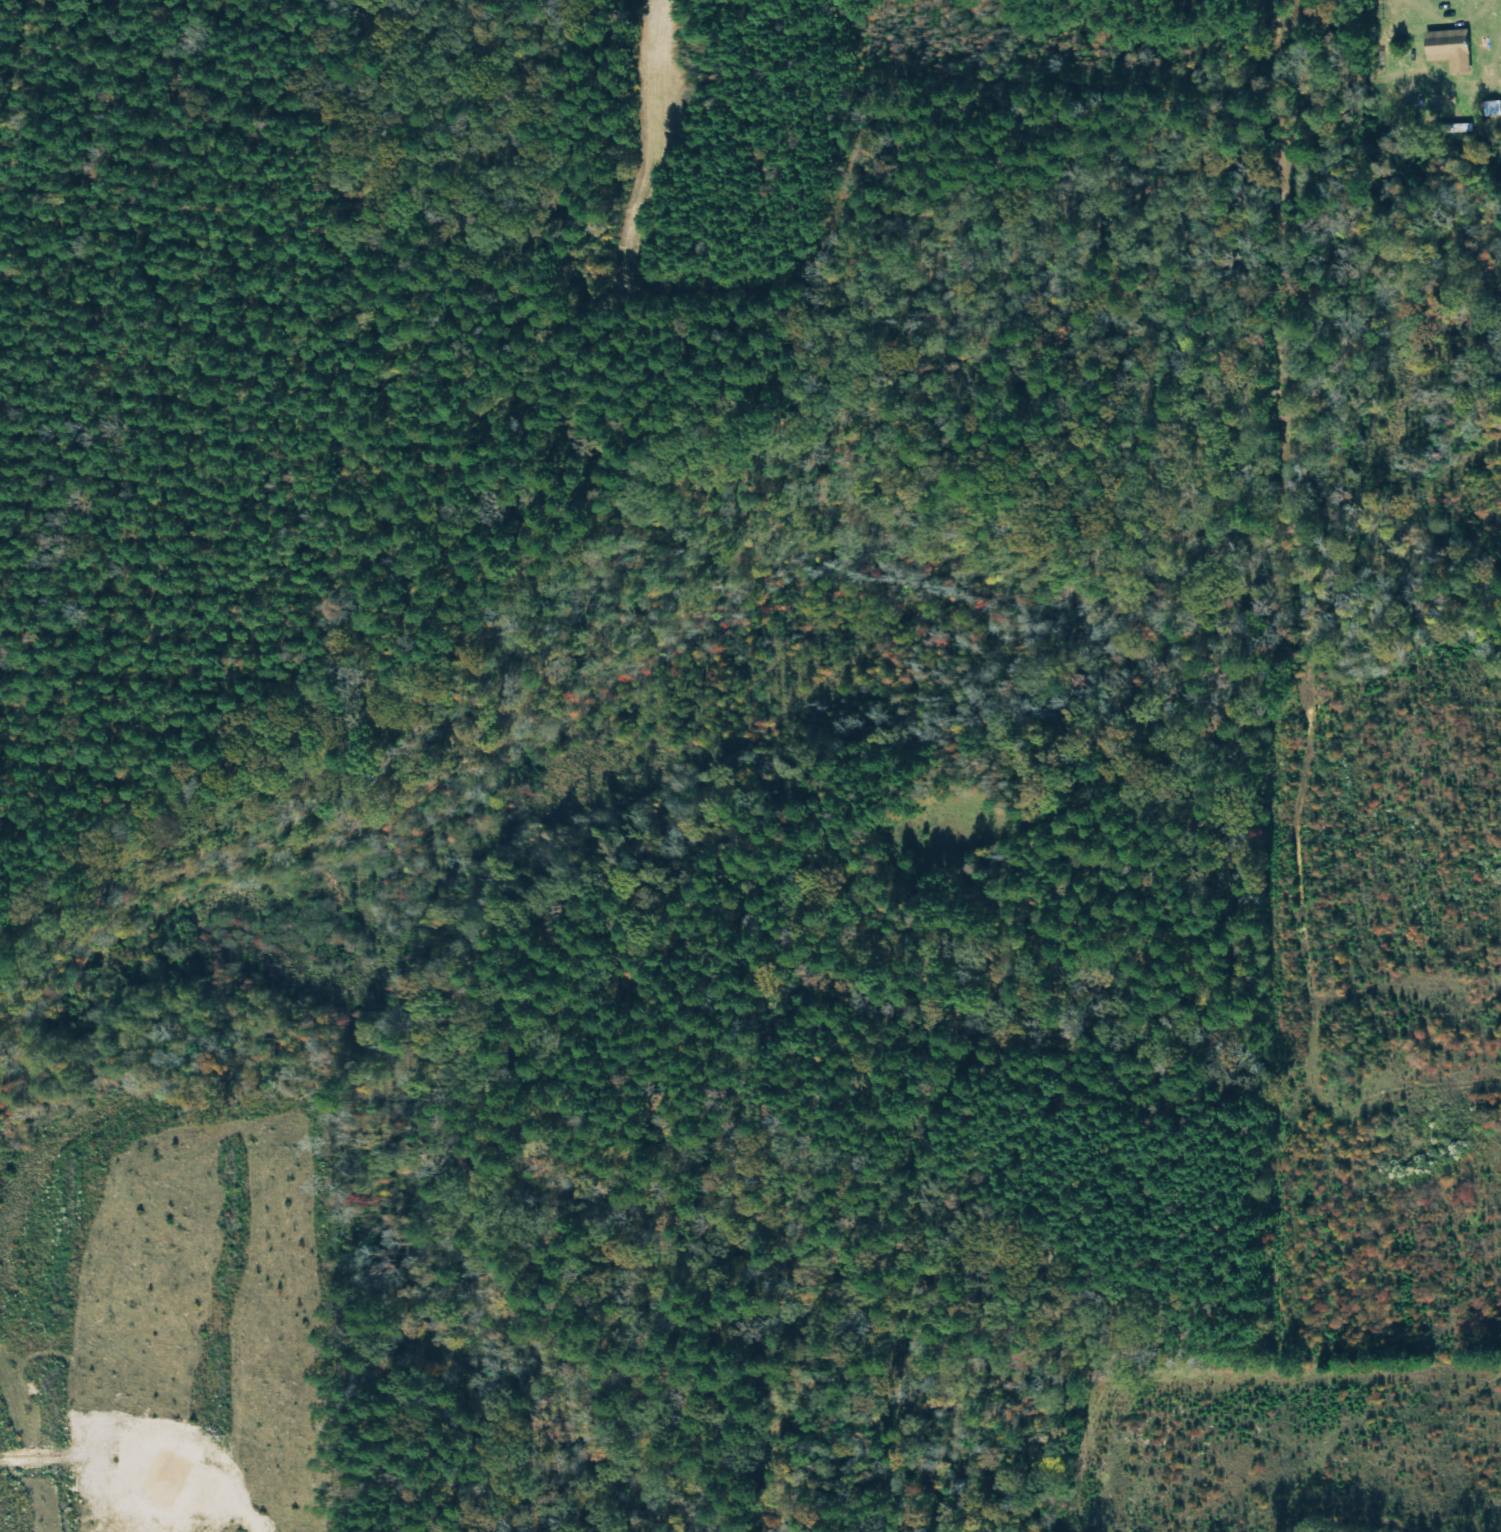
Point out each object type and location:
building: (1448, 50)
road: (1464, 92)

